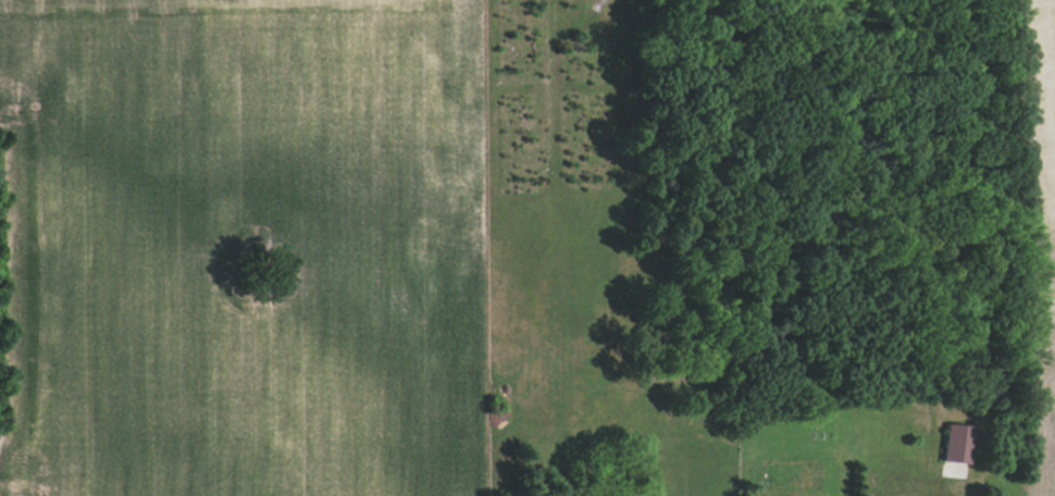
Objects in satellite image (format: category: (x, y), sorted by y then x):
crop: (1038, 241)
crop: (237, 249)
building: (957, 444)

